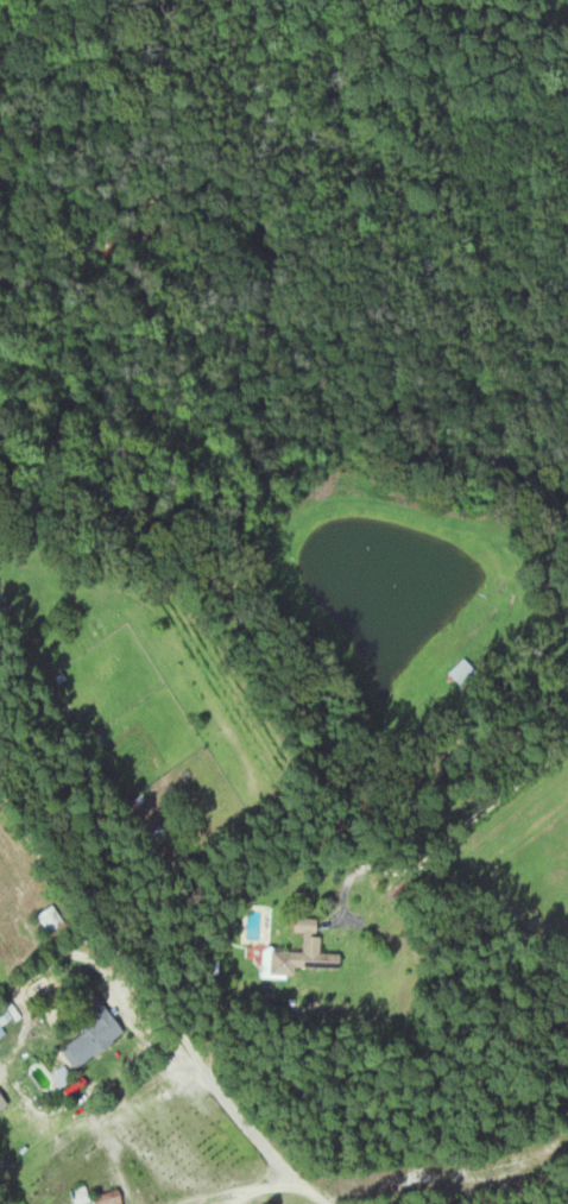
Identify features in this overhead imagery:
building: (296, 952)
building: (2, 1021)
building: (86, 1029)
building: (89, 1197)

